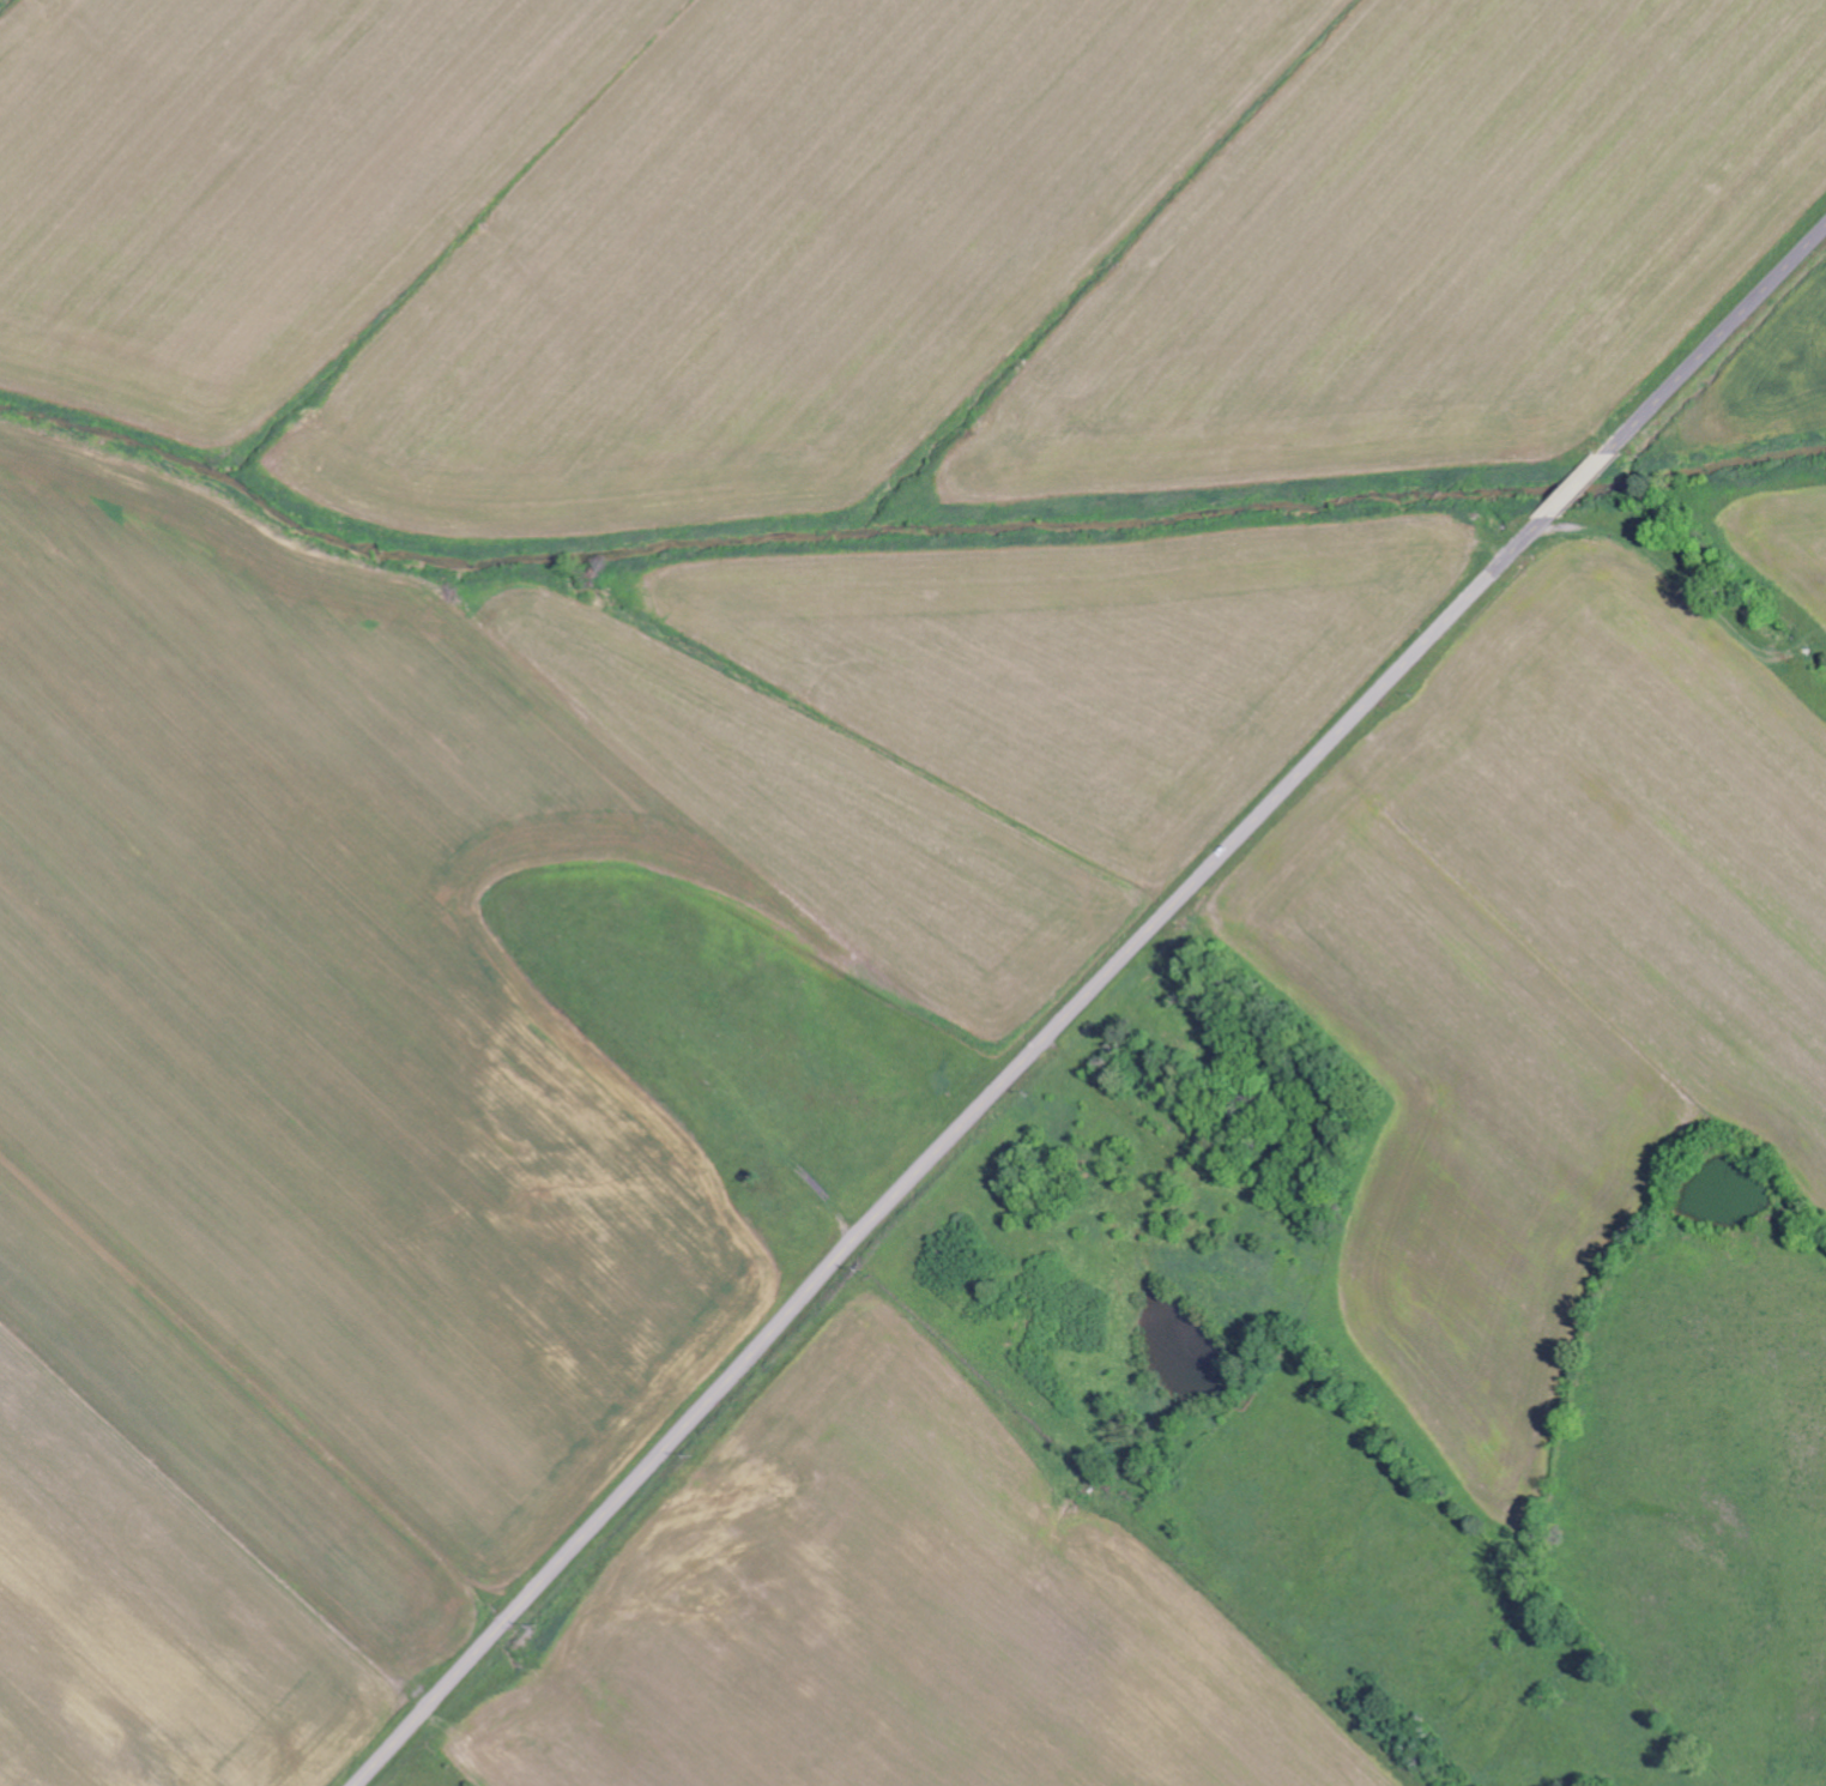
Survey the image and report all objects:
road: (1083, 1000)

